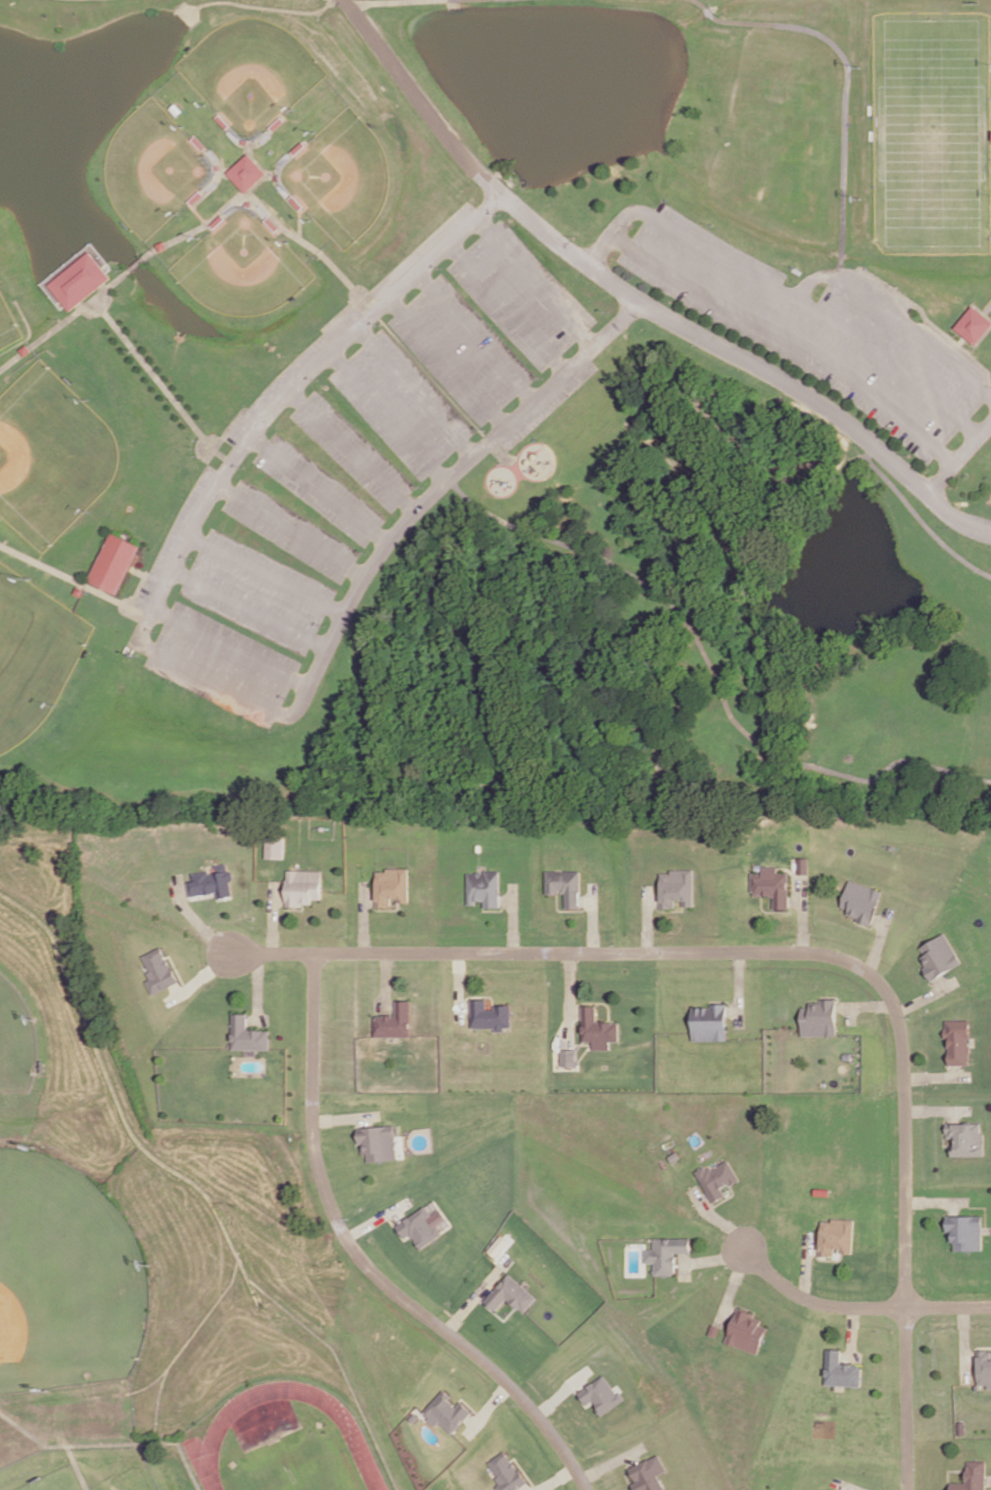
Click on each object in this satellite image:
road: (363, 1)
road: (700, 3)
road: (707, 10)
street lamp: (859, 64)
park: (254, 78)
road: (844, 93)
park: (931, 130)
park: (156, 168)
building: (247, 170)
park: (343, 178)
street lamp: (859, 194)
road: (266, 208)
street lamp: (499, 211)
street lamp: (634, 226)
street lamp: (441, 265)
road: (136, 267)
park: (244, 267)
road: (538, 277)
building: (79, 279)
road: (784, 291)
street lamp: (671, 300)
road: (639, 301)
road: (507, 305)
road: (986, 307)
road: (341, 310)
road: (896, 317)
road: (925, 319)
road: (62, 321)
park: (10, 322)
street lamp: (379, 322)
road: (952, 325)
building: (972, 325)
parking lot: (820, 328)
road: (474, 335)
road: (790, 338)
road: (959, 338)
road: (447, 359)
street lamp: (542, 376)
street lamp: (317, 378)
road: (161, 381)
road: (415, 389)
park: (496, 401)
road: (387, 414)
road: (352, 449)
street lamp: (908, 453)
park: (54, 456)
road: (960, 457)
parking lot: (357, 460)
street lamp: (423, 486)
road: (319, 488)
road: (919, 516)
street lamp: (949, 526)
road: (291, 528)
street lamp: (366, 550)
street lamp: (192, 556)
building: (113, 561)
road: (138, 570)
road: (266, 571)
road: (75, 578)
road: (138, 587)
road: (248, 606)
street lamp: (325, 623)
street lamp: (155, 629)
road: (230, 645)
park: (34, 654)
road: (711, 667)
road: (197, 671)
street lamp: (289, 696)
building: (274, 846)
building: (803, 864)
building: (212, 880)
building: (391, 884)
building: (566, 884)
building: (771, 884)
building: (302, 885)
building: (677, 886)
building: (484, 887)
road: (197, 896)
building: (861, 900)
road: (289, 907)
road: (384, 908)
road: (567, 909)
road: (802, 913)
road: (273, 915)
road: (364, 915)
road: (594, 915)
road: (514, 916)
road: (648, 917)
road: (195, 918)
road: (867, 924)
road: (878, 942)
road: (594, 950)
road: (272, 951)
building: (939, 955)
building: (159, 970)
road: (385, 980)
road: (458, 984)
road: (257, 986)
road: (739, 987)
road: (481, 994)
road: (926, 995)
road: (570, 997)
road: (597, 1001)
road: (865, 1004)
building: (489, 1013)
building: (819, 1017)
building: (394, 1020)
building: (710, 1021)
building: (597, 1025)
building: (247, 1033)
park: (19, 1040)
building: (958, 1040)
road: (584, 1042)
road: (584, 1051)
building: (847, 1055)
building: (568, 1056)
road: (936, 1075)
road: (937, 1109)
road: (346, 1116)
road: (905, 1134)
building: (966, 1137)
building: (378, 1141)
building: (674, 1155)
building: (717, 1177)
road: (725, 1197)
road: (935, 1200)
road: (985, 1207)
road: (718, 1218)
building: (422, 1226)
building: (965, 1230)
building: (835, 1235)
building: (497, 1244)
building: (665, 1253)
road: (713, 1258)
road: (828, 1258)
road: (365, 1261)
road: (805, 1265)
park: (69, 1276)
road: (731, 1286)
building: (511, 1292)
road: (477, 1294)
road: (815, 1301)
road: (948, 1305)
road: (497, 1313)
building: (714, 1329)
building: (746, 1330)
road: (852, 1332)
road: (964, 1342)
building: (984, 1366)
building: (840, 1369)
building: (601, 1395)
road: (905, 1397)
building: (447, 1412)
park: (285, 1441)
road: (110, 1445)
road: (612, 1461)
road: (75, 1468)
road: (949, 1470)
building: (507, 1472)
road: (626, 1473)
building: (648, 1474)
building: (973, 1477)
road: (847, 1485)
road: (849, 1488)
building: (817, 1489)
building: (821, 1489)

